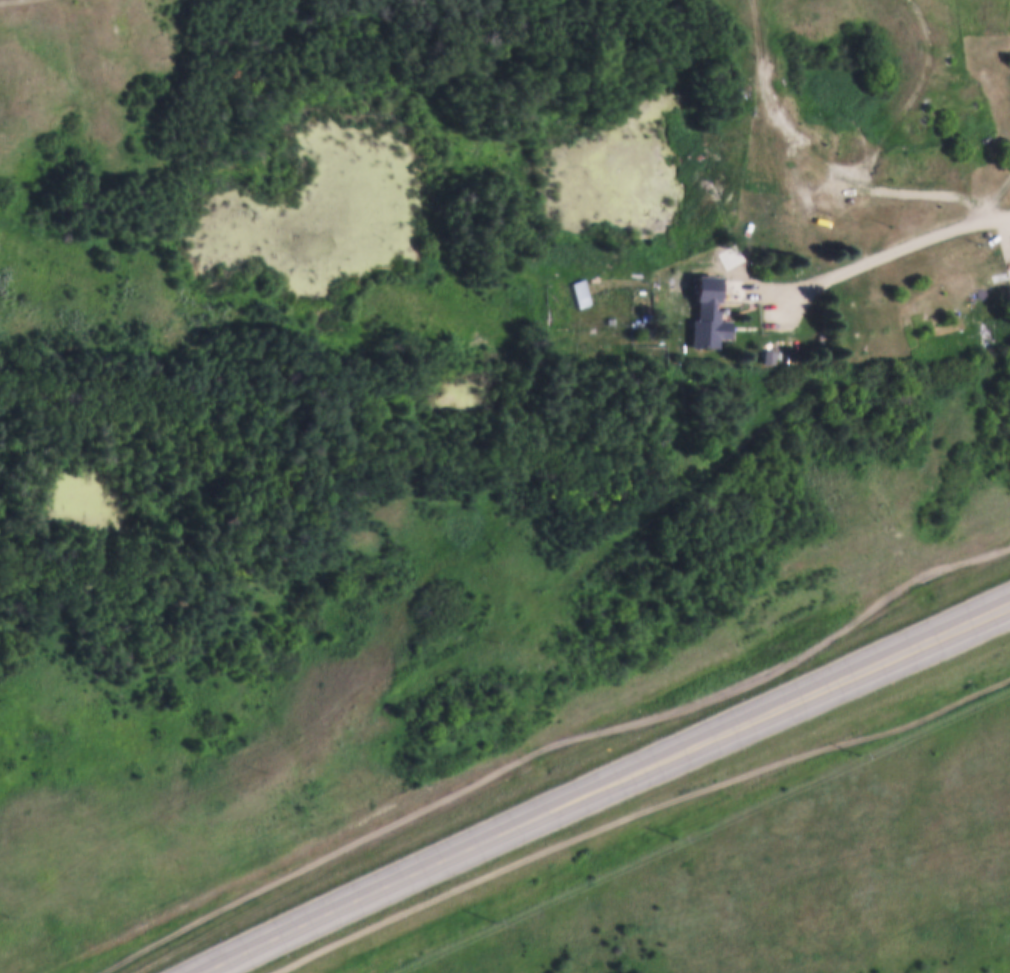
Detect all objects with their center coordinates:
building: (801, 187)
building: (732, 222)
road: (883, 252)
building: (909, 270)
building: (581, 290)
building: (704, 310)
building: (766, 354)
road: (912, 644)
road: (508, 828)

